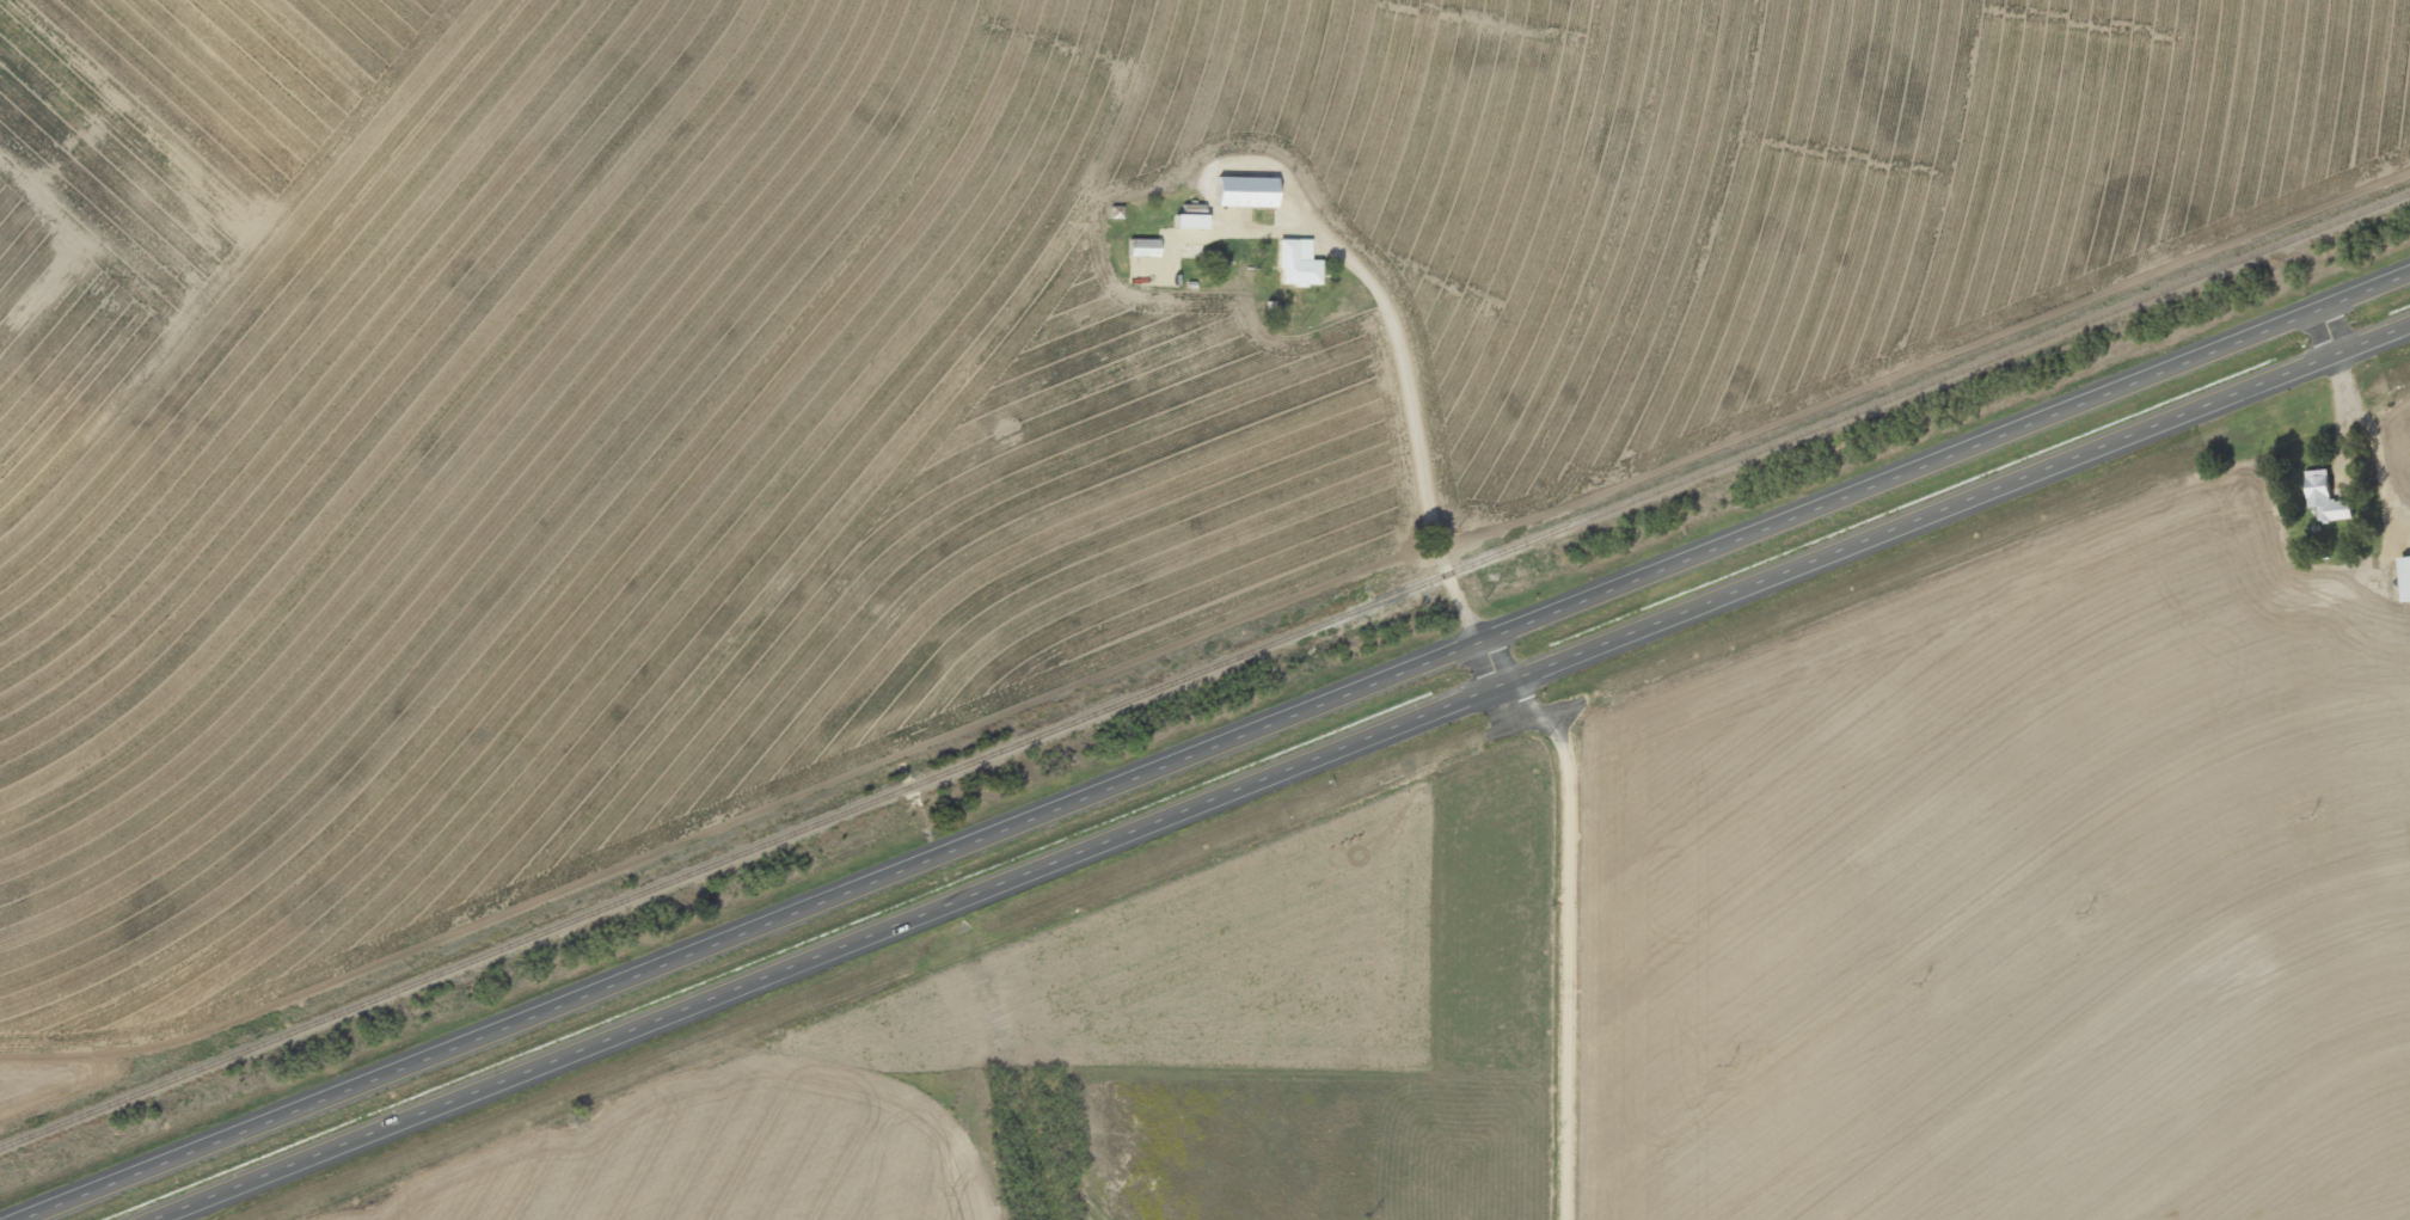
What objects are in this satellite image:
building: (1244, 191)
building: (2326, 496)
building: (2405, 577)
railway: (1204, 670)
road: (1993, 680)
road: (1228, 754)
road: (1294, 777)
road: (1577, 926)
road: (1068, 1028)

